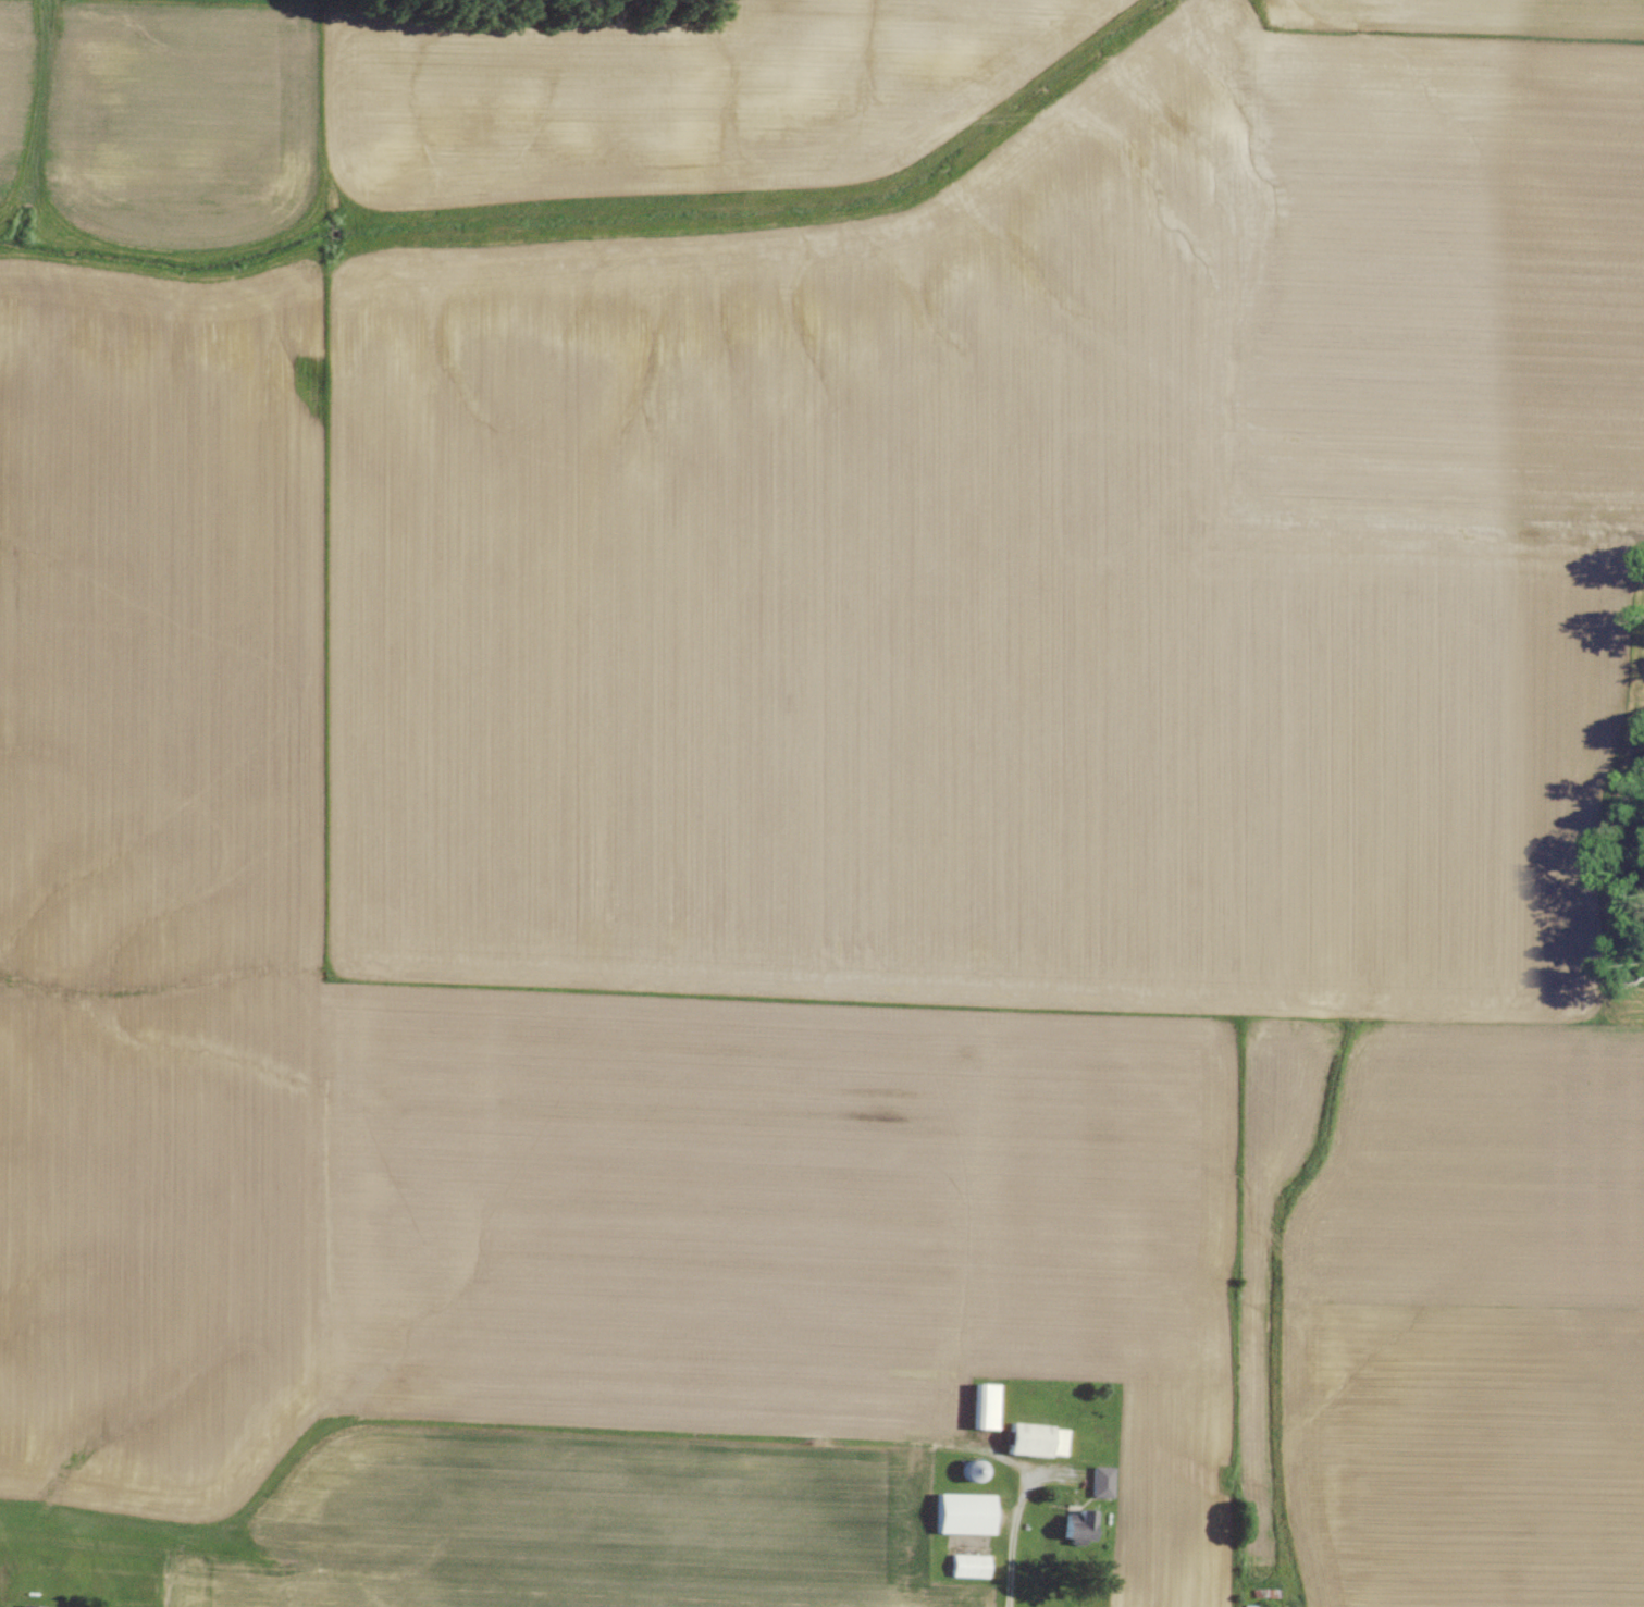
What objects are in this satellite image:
building: (1038, 1441)
building: (1102, 1482)
building: (965, 1515)
building: (1080, 1525)
road: (1013, 1537)
building: (969, 1567)
building: (32, 1606)
building: (1249, 1606)

